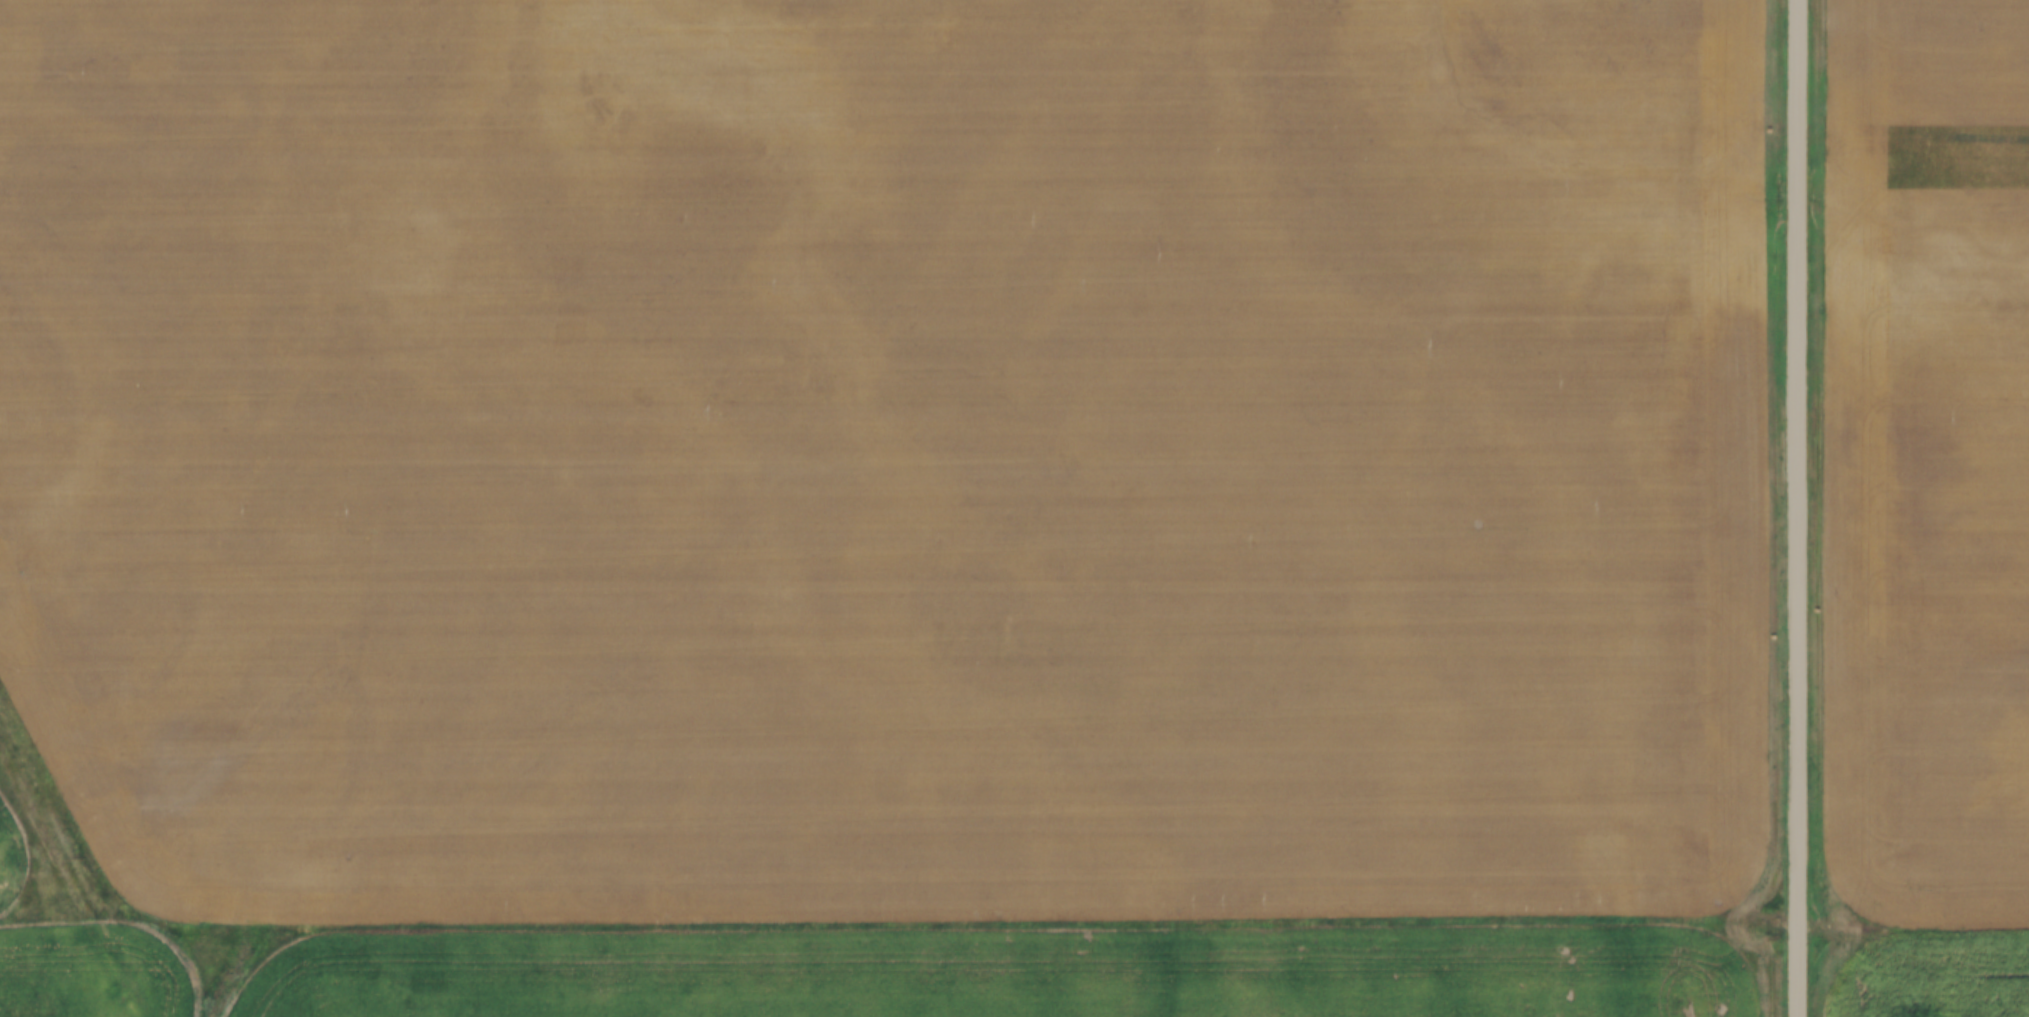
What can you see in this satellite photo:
road: (1801, 508)

